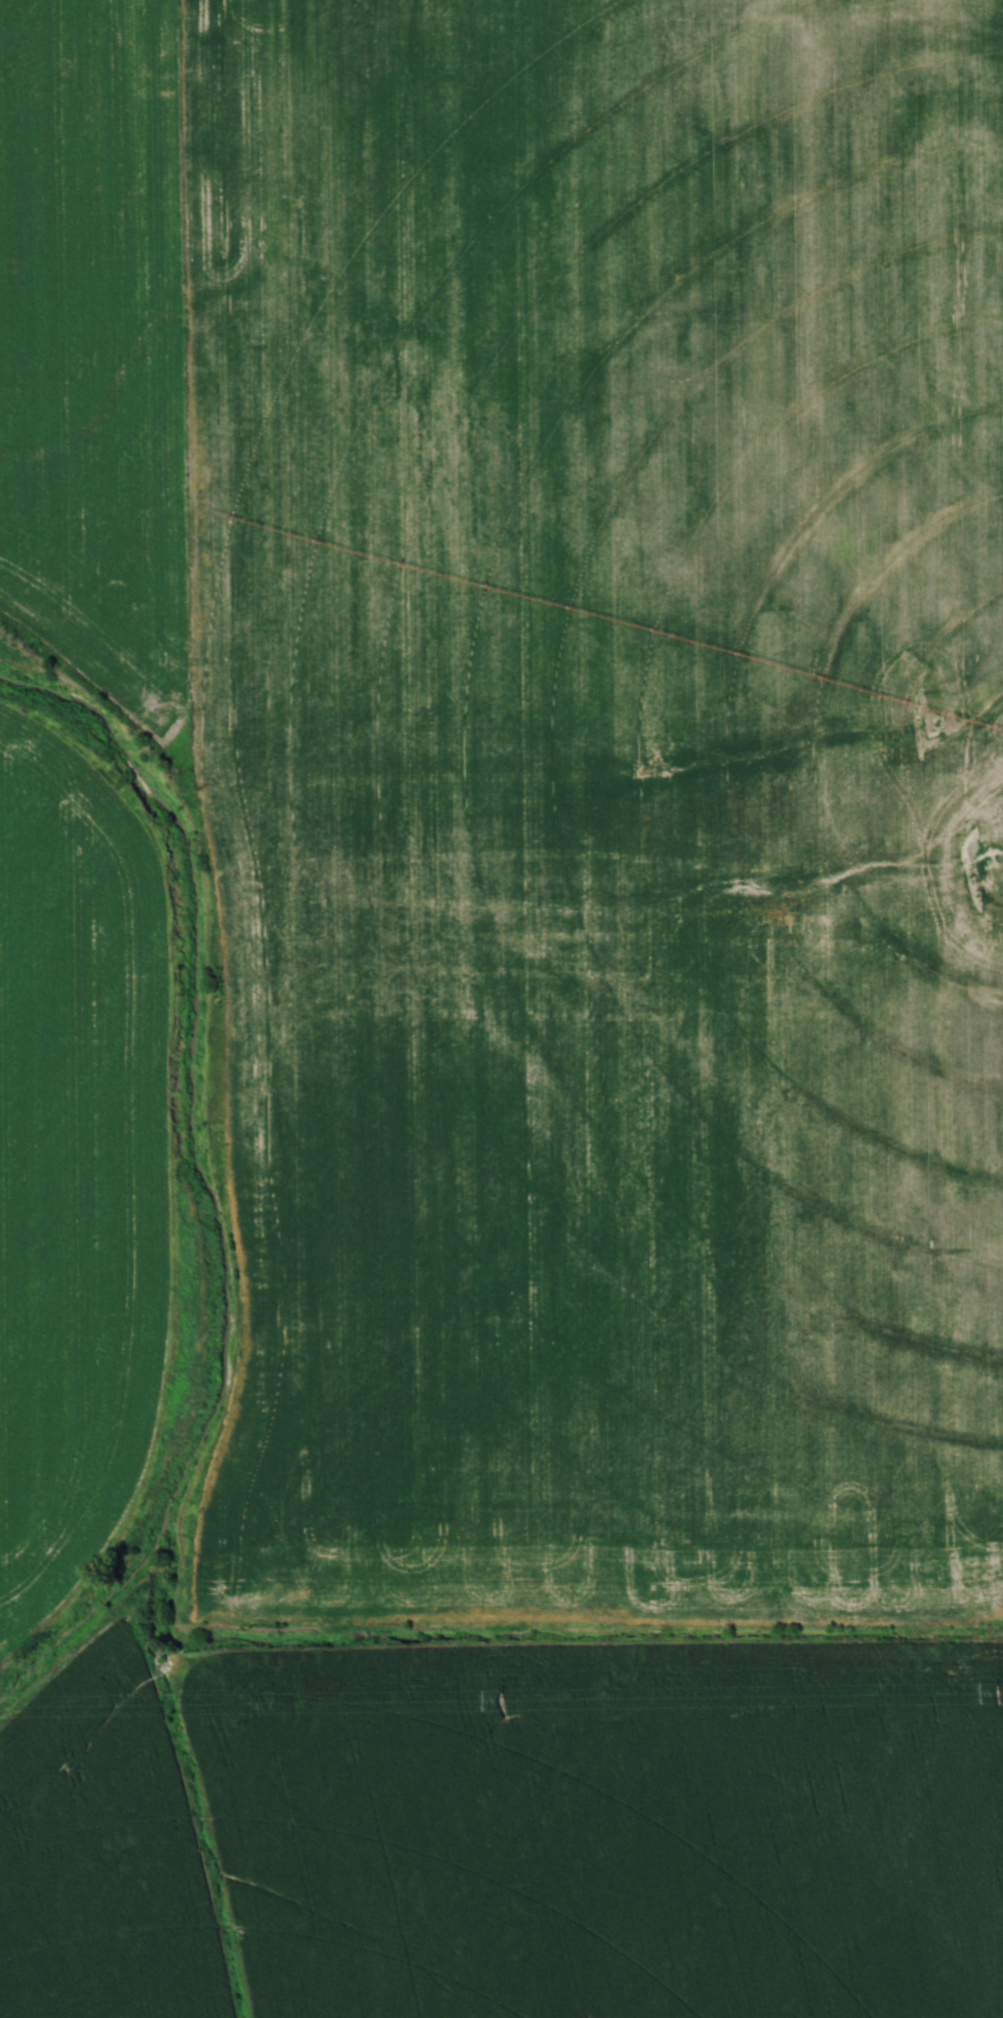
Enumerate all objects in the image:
river: (192, 1186)
power tower: (997, 1693)
power tower: (501, 1701)

